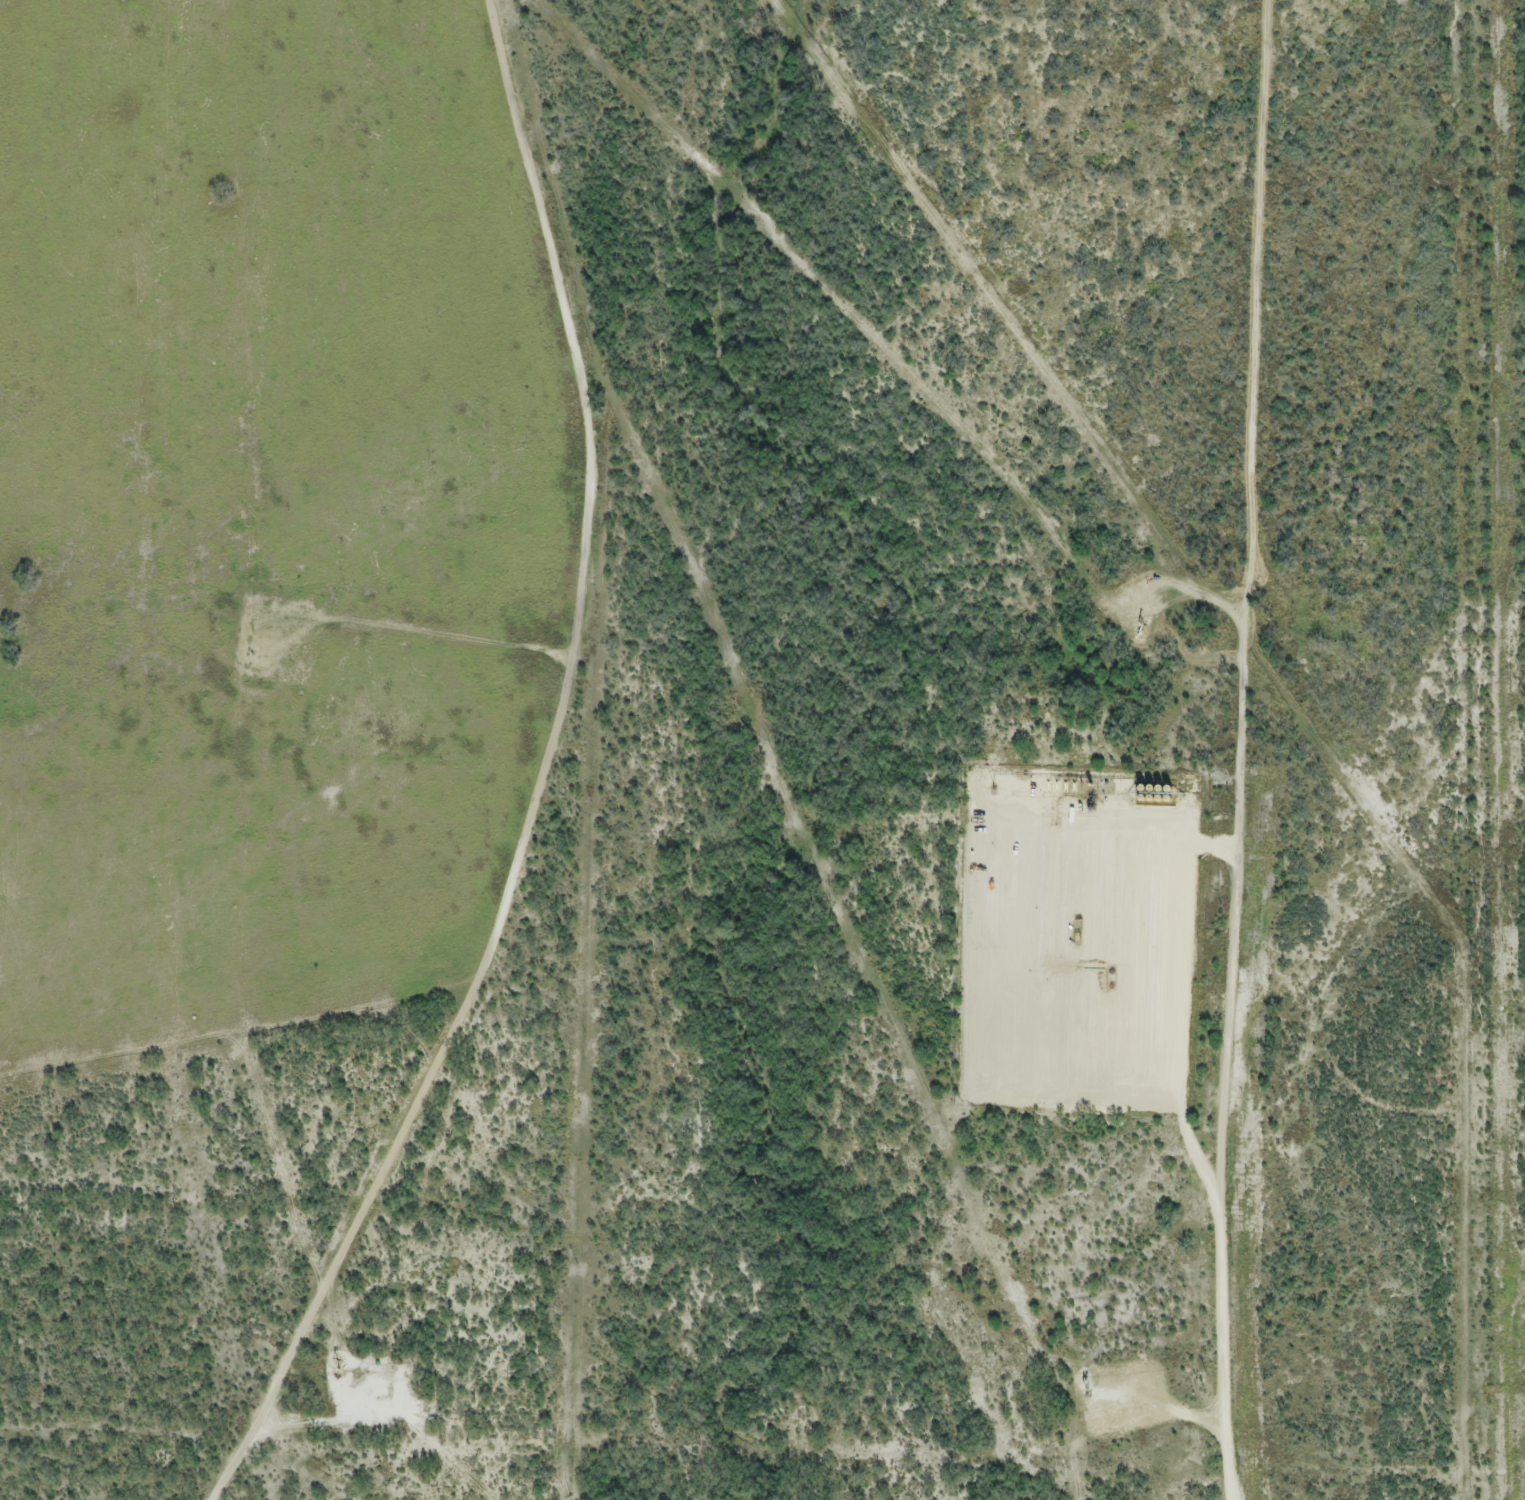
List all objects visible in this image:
road: (553, 727)
road: (1229, 750)

